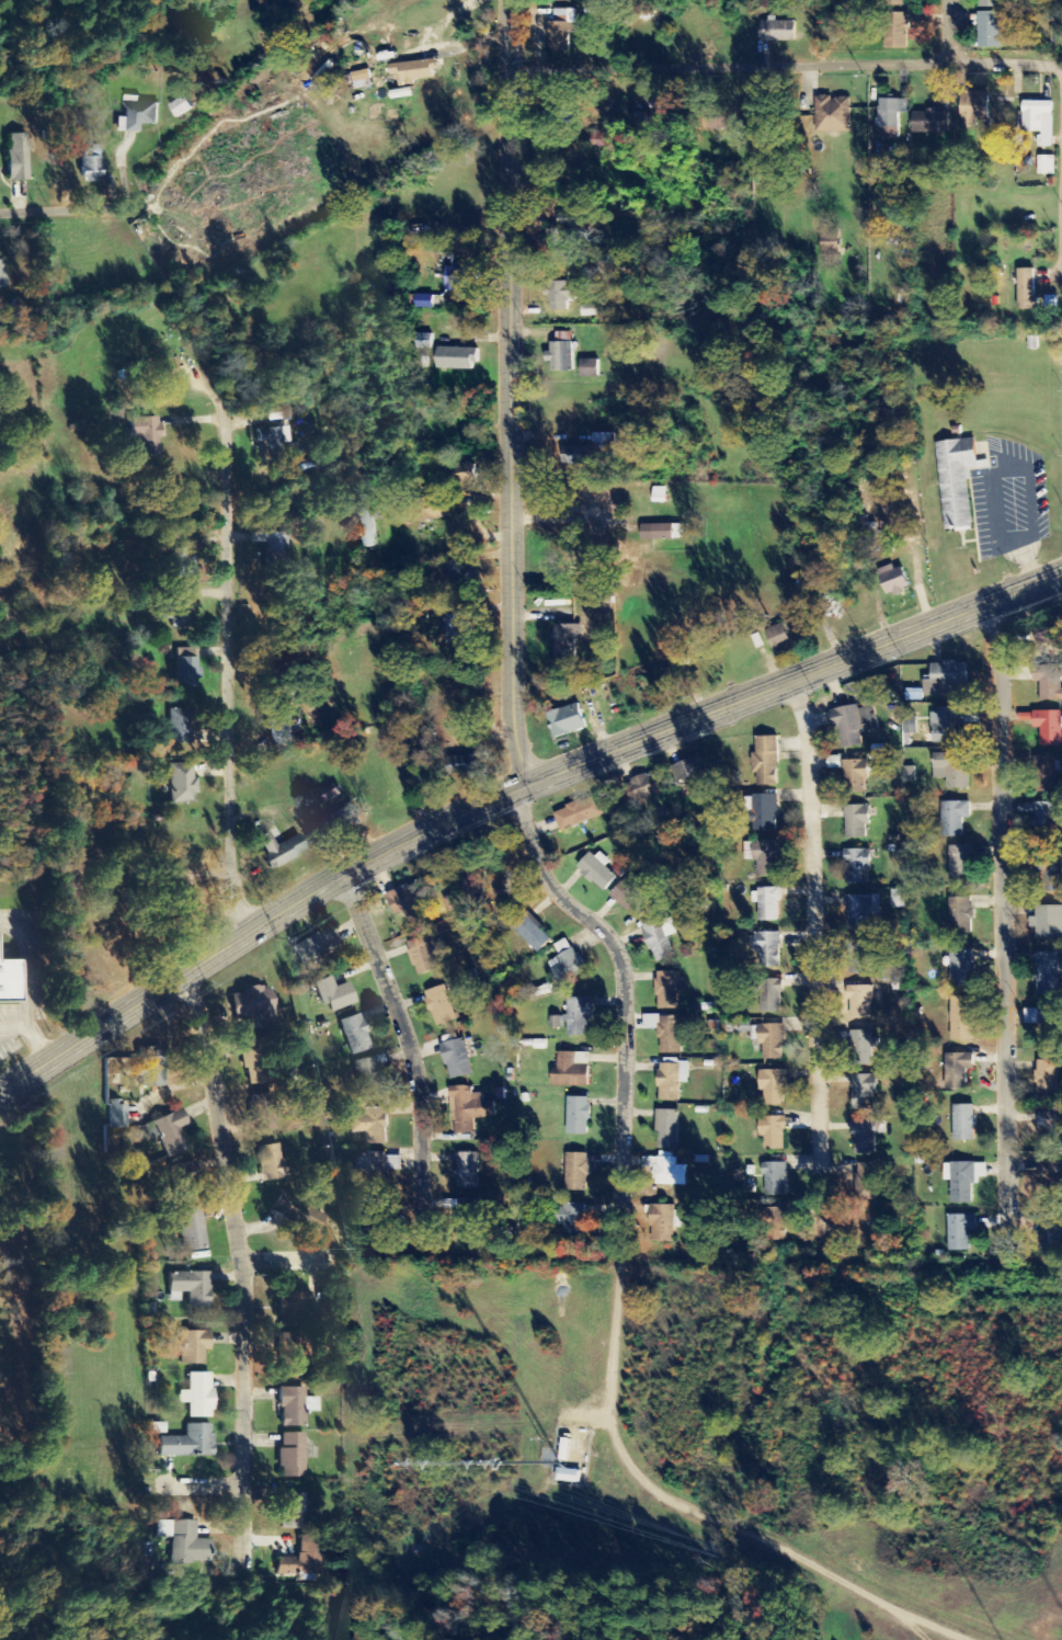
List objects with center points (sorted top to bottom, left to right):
building: (893, 3)
building: (991, 4)
building: (991, 31)
building: (778, 32)
building: (897, 32)
road: (957, 32)
building: (560, 35)
road: (792, 66)
building: (413, 72)
building: (362, 80)
building: (975, 106)
building: (181, 107)
building: (136, 115)
building: (833, 115)
building: (890, 117)
building: (721, 119)
building: (1039, 122)
building: (932, 123)
building: (16, 158)
building: (90, 166)
building: (1046, 167)
road: (68, 207)
road: (856, 212)
building: (566, 230)
building: (1, 277)
building: (464, 278)
building: (1027, 291)
building: (563, 295)
building: (592, 310)
building: (561, 354)
building: (457, 358)
building: (168, 368)
building: (590, 368)
building: (274, 415)
building: (145, 435)
building: (276, 444)
building: (592, 452)
building: (953, 480)
building: (184, 496)
building: (660, 496)
building: (437, 512)
building: (367, 521)
building: (671, 533)
building: (182, 562)
building: (456, 577)
building: (894, 581)
building: (178, 614)
building: (457, 629)
building: (1049, 633)
road: (530, 636)
building: (778, 640)
building: (567, 642)
building: (757, 642)
building: (185, 669)
road: (243, 670)
building: (671, 675)
building: (945, 681)
building: (1049, 683)
building: (566, 720)
building: (854, 725)
building: (946, 726)
building: (179, 727)
building: (1046, 727)
building: (766, 762)
building: (464, 765)
building: (952, 770)
building: (694, 775)
building: (1046, 775)
building: (856, 776)
building: (181, 784)
road: (506, 784)
building: (643, 788)
building: (580, 813)
building: (764, 813)
building: (955, 819)
building: (1044, 819)
building: (857, 823)
building: (330, 827)
building: (279, 851)
building: (763, 857)
building: (960, 864)
building: (858, 867)
building: (596, 873)
building: (476, 874)
building: (1052, 874)
building: (631, 897)
building: (182, 899)
building: (409, 900)
building: (767, 904)
building: (861, 911)
building: (961, 911)
building: (1049, 923)
building: (532, 933)
road: (1002, 936)
building: (658, 941)
building: (319, 945)
building: (767, 949)
building: (414, 954)
building: (863, 956)
road: (815, 967)
building: (962, 968)
building: (567, 970)
building: (1047, 975)
building: (7, 980)
building: (669, 990)
building: (333, 995)
building: (772, 996)
building: (860, 1002)
building: (251, 1004)
building: (441, 1006)
building: (579, 1017)
building: (962, 1020)
building: (1044, 1021)
building: (556, 1023)
building: (674, 1034)
building: (355, 1036)
building: (762, 1037)
building: (863, 1048)
road: (410, 1049)
building: (456, 1059)
building: (255, 1061)
building: (148, 1071)
building: (958, 1071)
building: (571, 1074)
building: (1048, 1079)
building: (367, 1080)
building: (669, 1083)
building: (774, 1089)
building: (864, 1092)
building: (469, 1109)
building: (264, 1114)
building: (116, 1116)
building: (579, 1117)
building: (964, 1124)
building: (370, 1126)
building: (1051, 1128)
building: (667, 1131)
building: (169, 1134)
building: (774, 1134)
building: (864, 1139)
building: (272, 1165)
building: (372, 1170)
building: (667, 1171)
building: (467, 1172)
building: (578, 1174)
building: (776, 1178)
building: (1051, 1178)
building: (963, 1181)
building: (182, 1182)
building: (866, 1183)
building: (299, 1215)
building: (377, 1215)
building: (470, 1219)
building: (775, 1219)
building: (572, 1222)
building: (664, 1226)
building: (190, 1231)
building: (1049, 1231)
building: (960, 1232)
road: (244, 1273)
building: (190, 1289)
building: (294, 1312)
building: (192, 1348)
building: (290, 1357)
building: (196, 1397)
building: (292, 1408)
building: (186, 1445)
building: (290, 1457)
building: (289, 1514)
building: (182, 1548)
building: (302, 1561)

